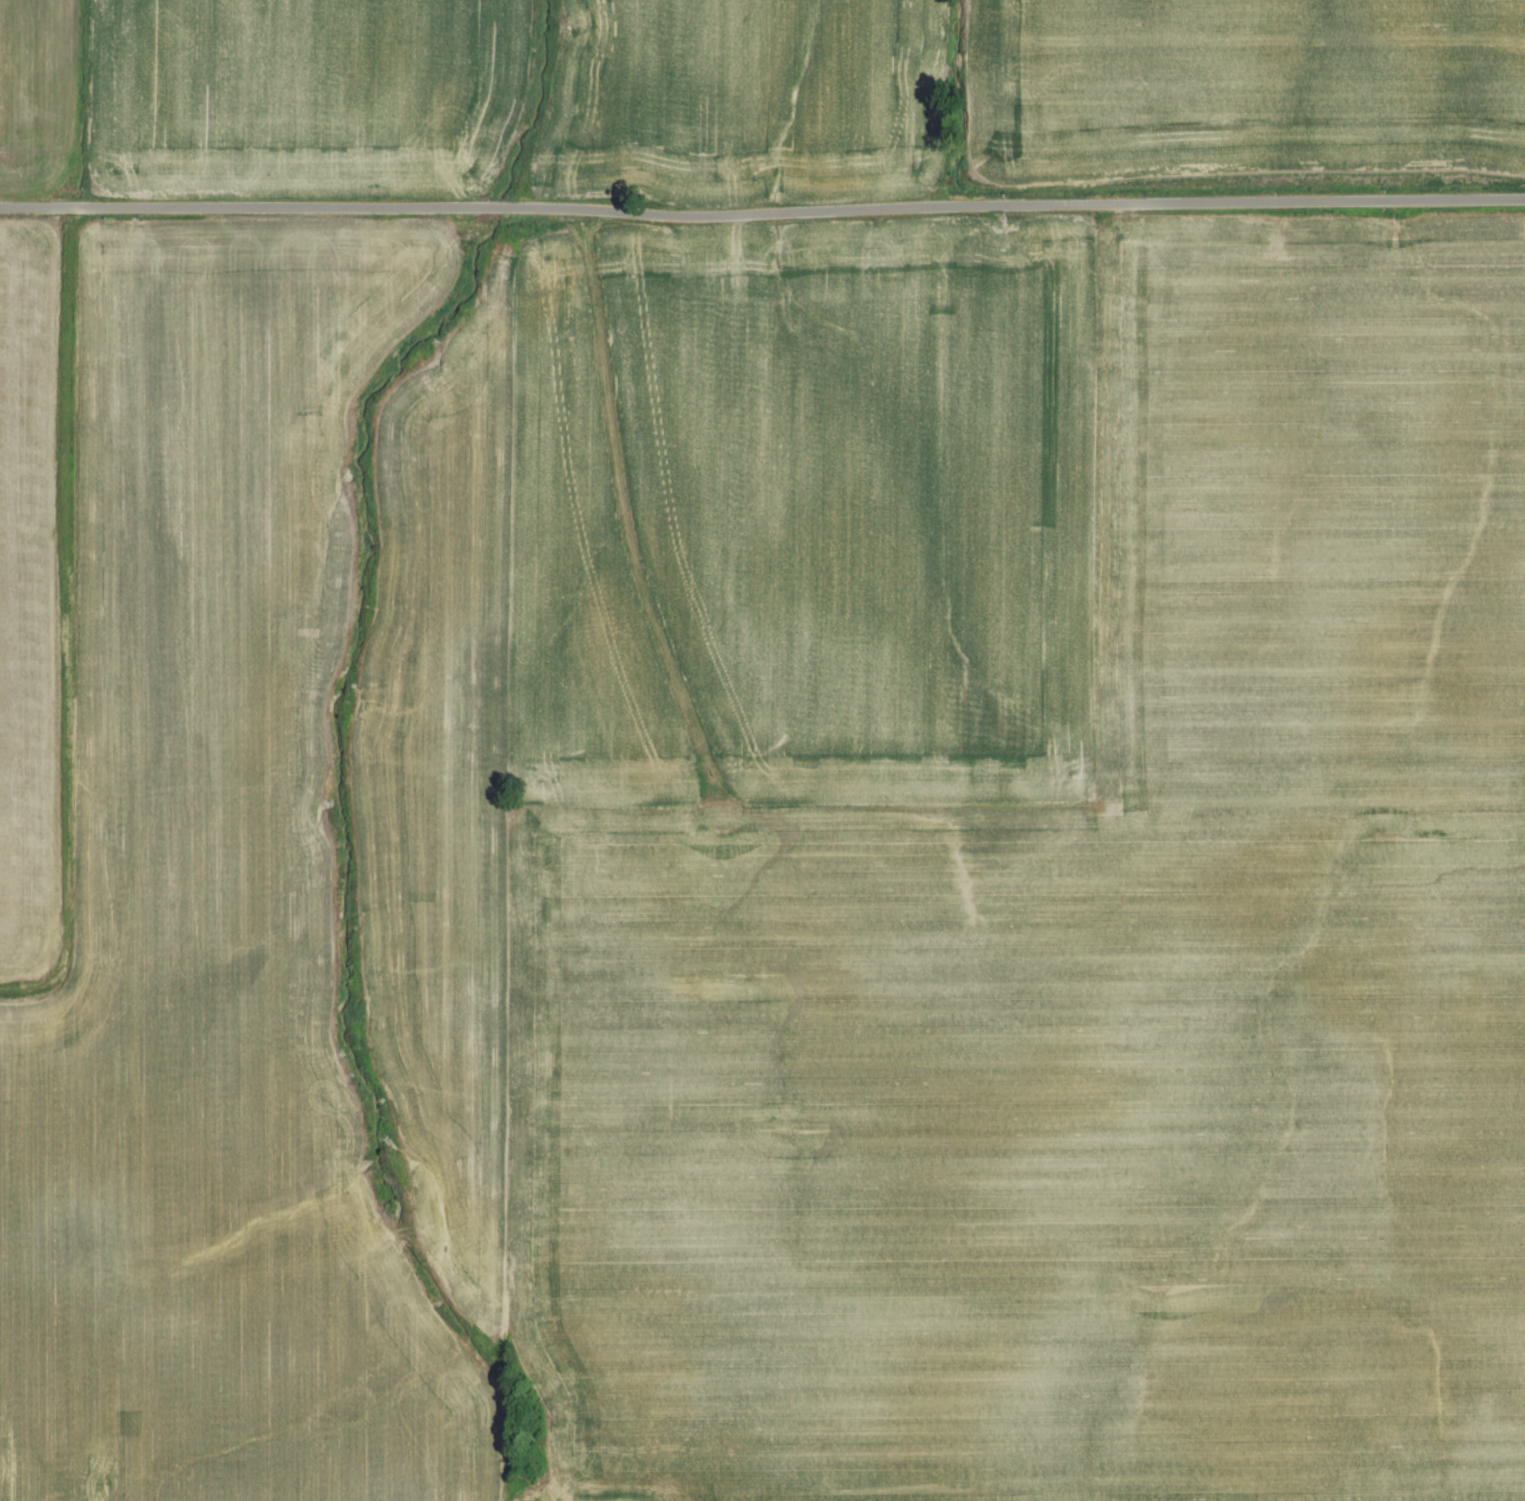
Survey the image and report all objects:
road: (762, 212)
road: (61, 620)

